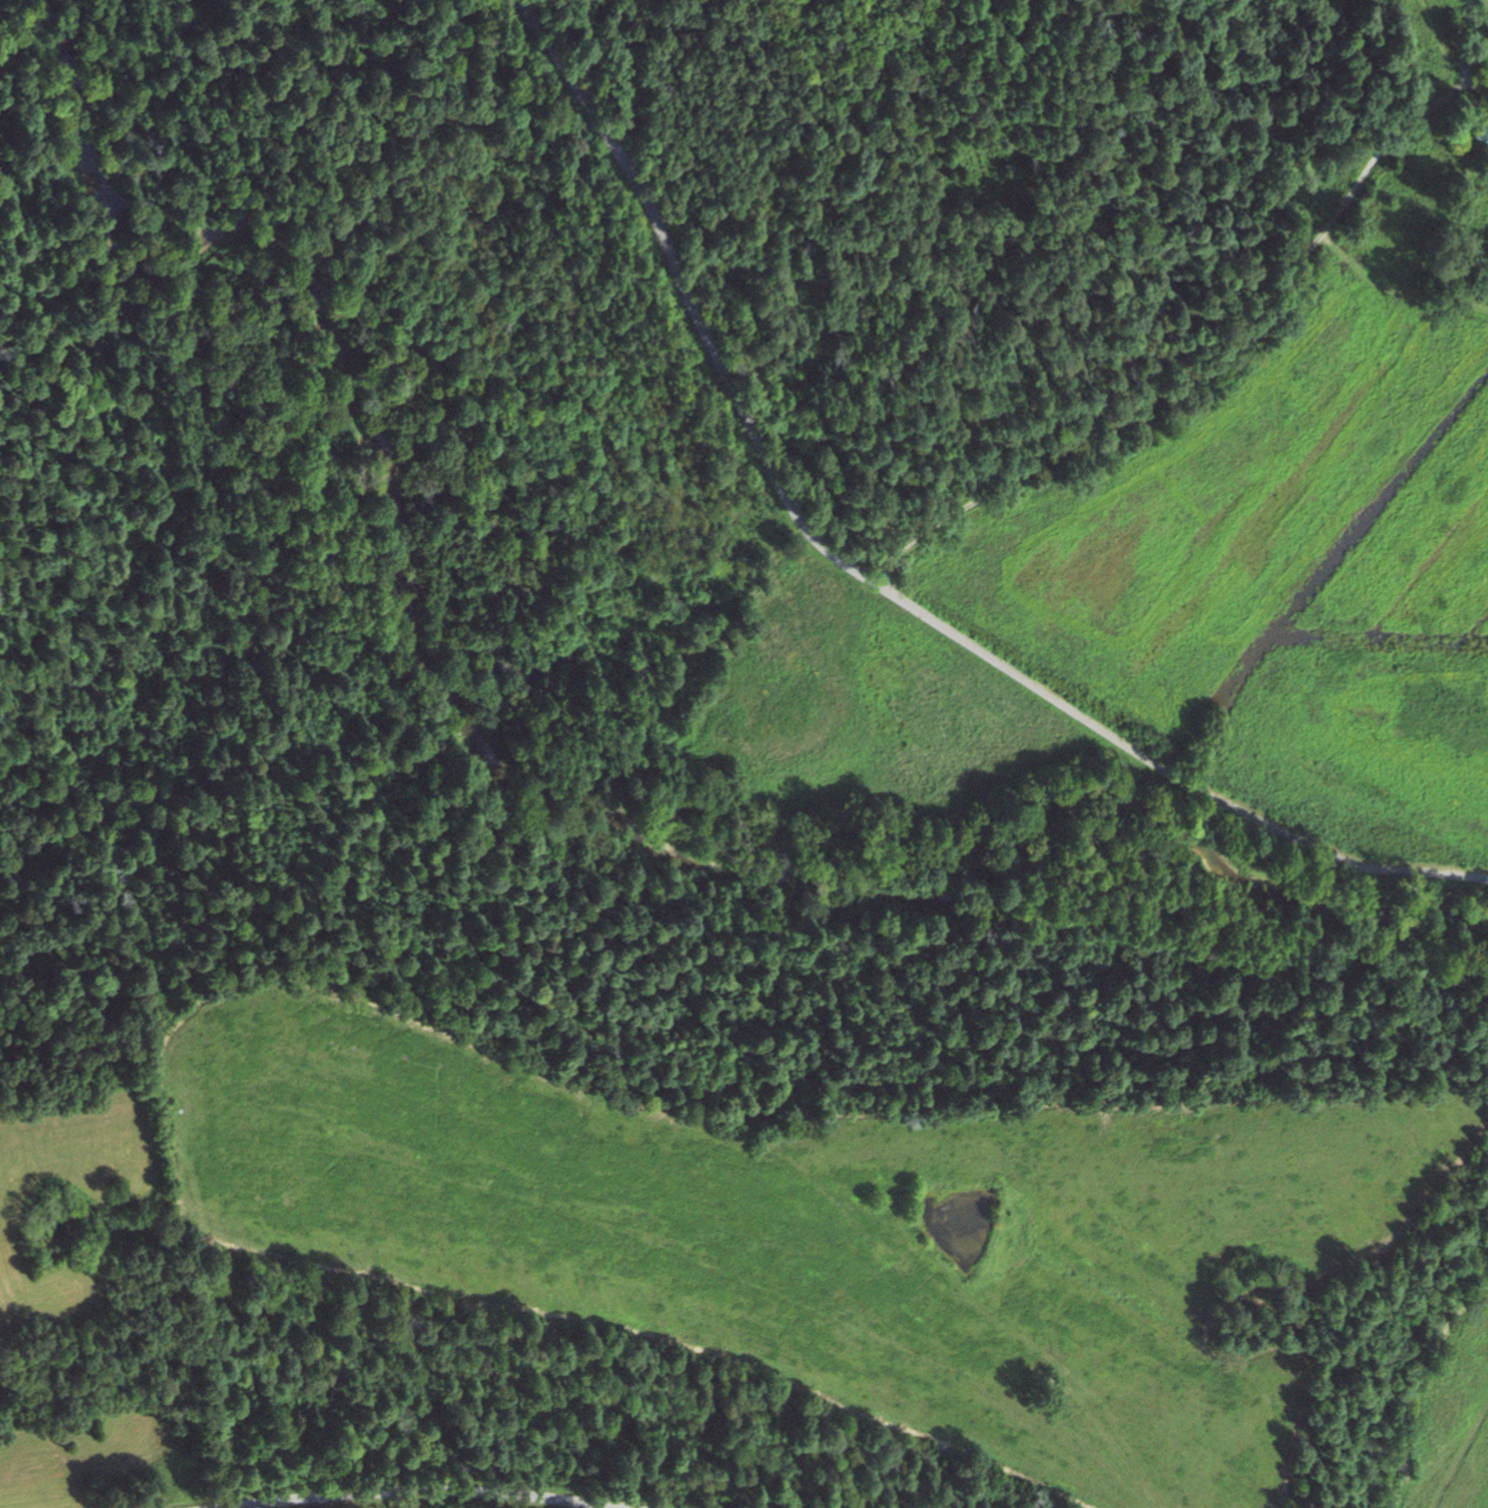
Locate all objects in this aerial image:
building: (1483, 131)
road: (1189, 359)
road: (874, 582)
road: (430, 1490)

